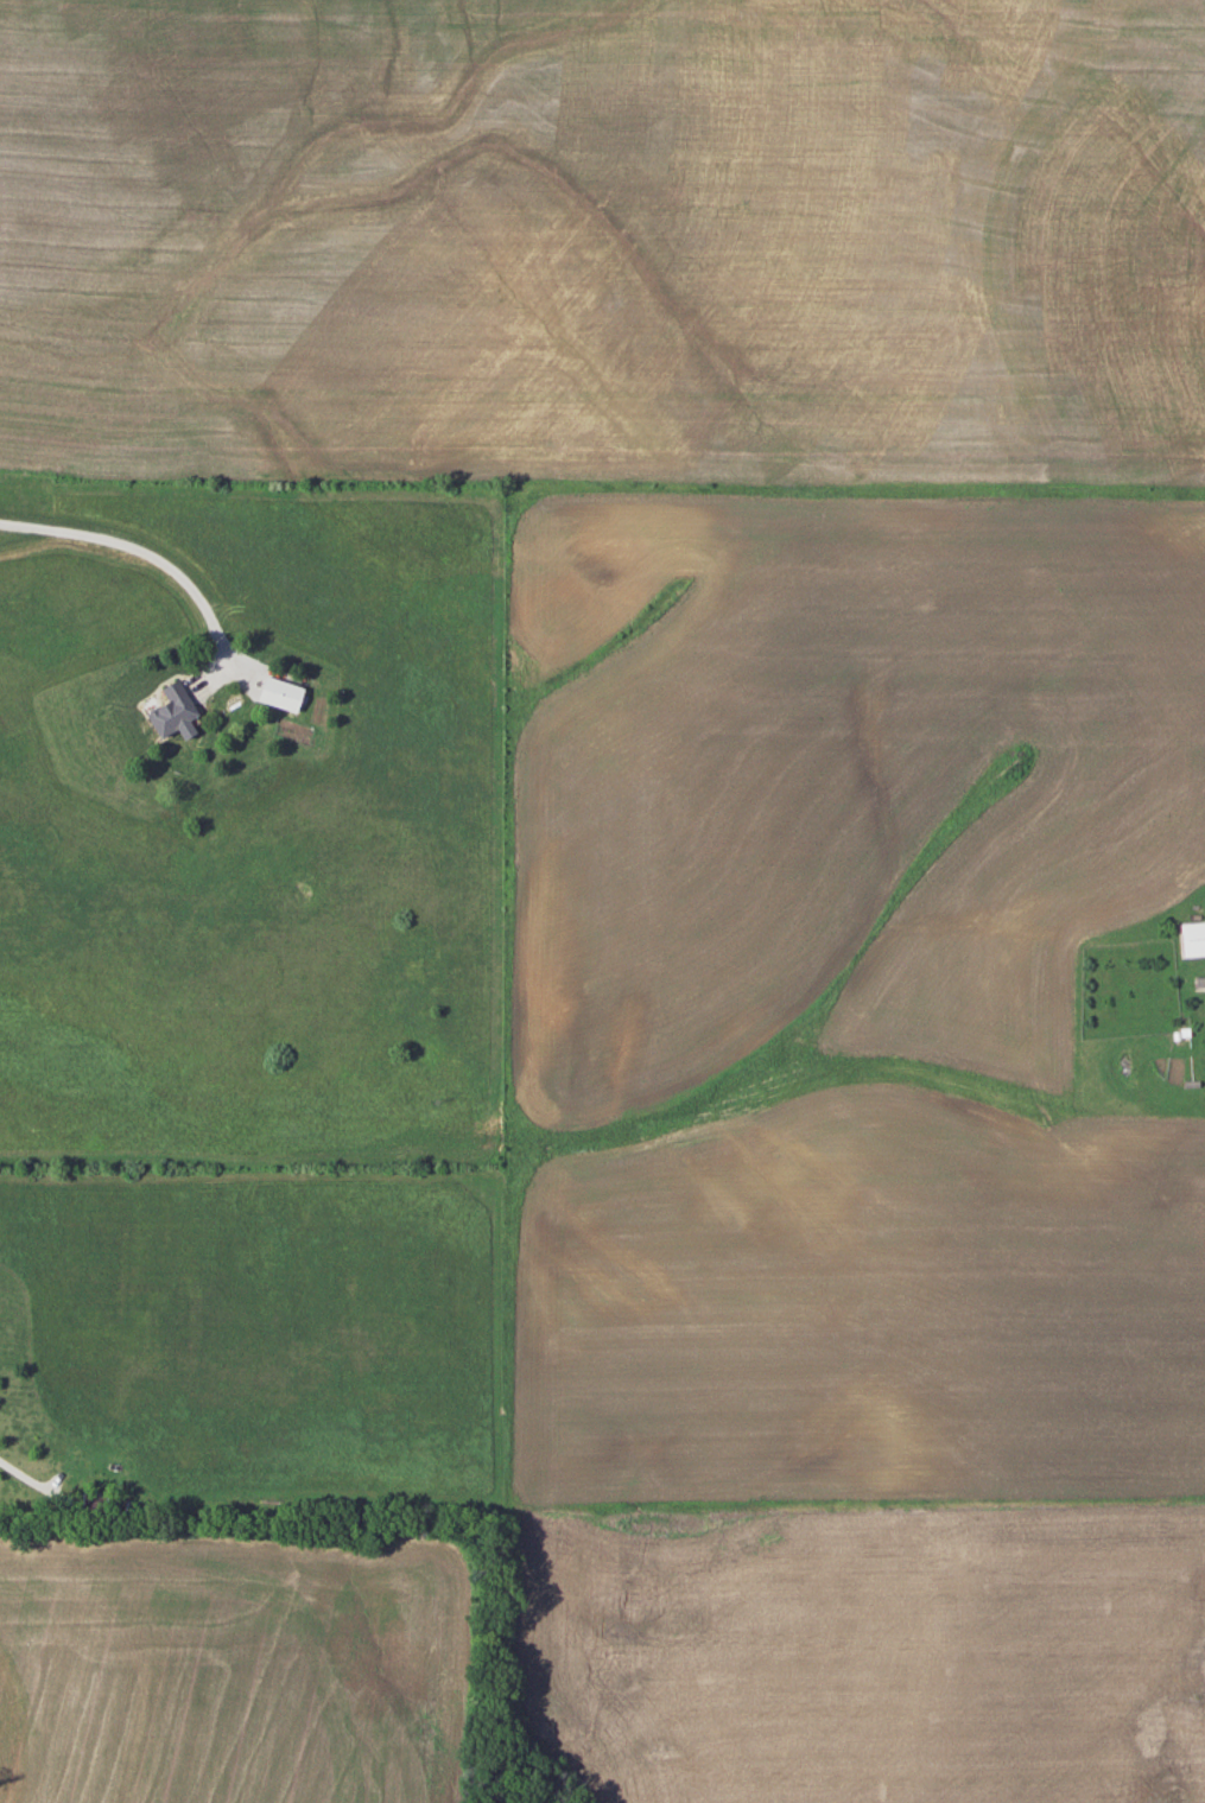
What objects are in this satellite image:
road: (137, 548)
building: (279, 693)
building: (171, 709)
building: (1192, 938)
road: (36, 1483)

